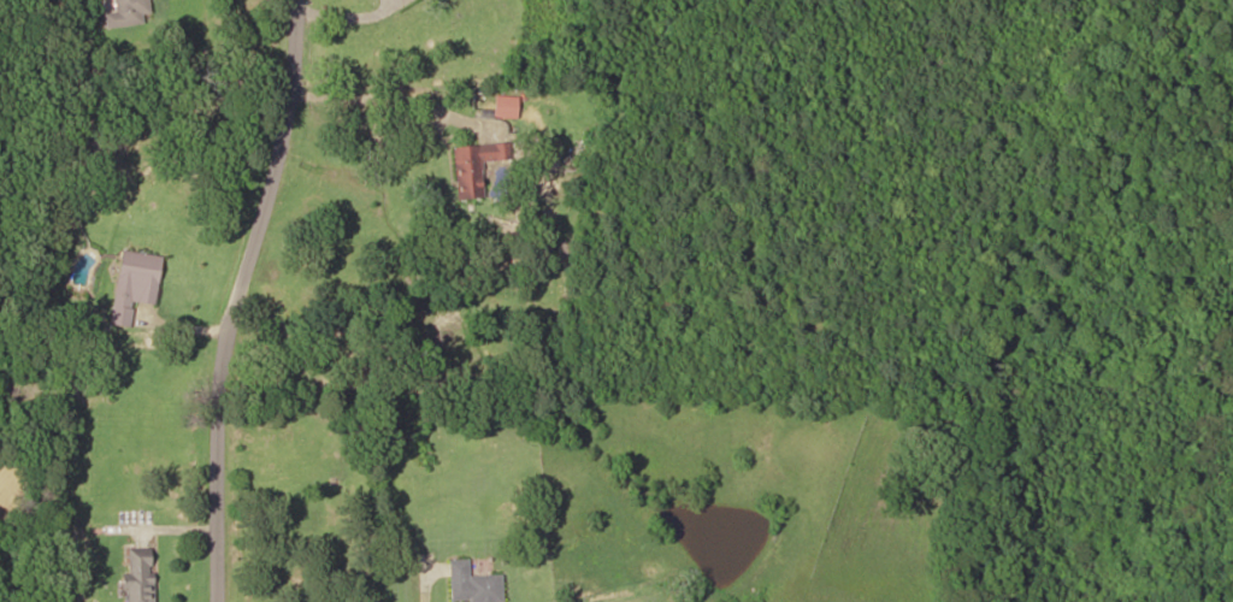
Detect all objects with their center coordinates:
building: (125, 13)
building: (503, 106)
building: (474, 166)
building: (132, 283)
road: (232, 297)
building: (138, 576)
building: (471, 584)

